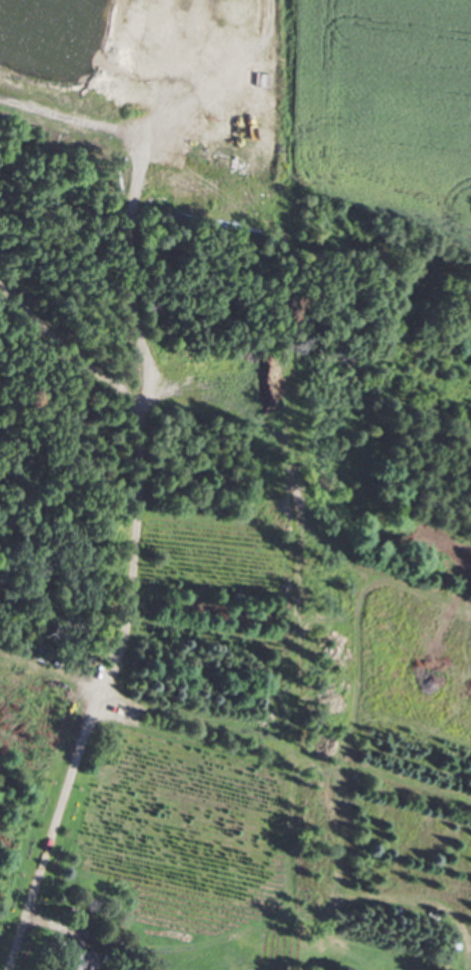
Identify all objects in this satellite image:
road: (55, 794)
building: (88, 961)

